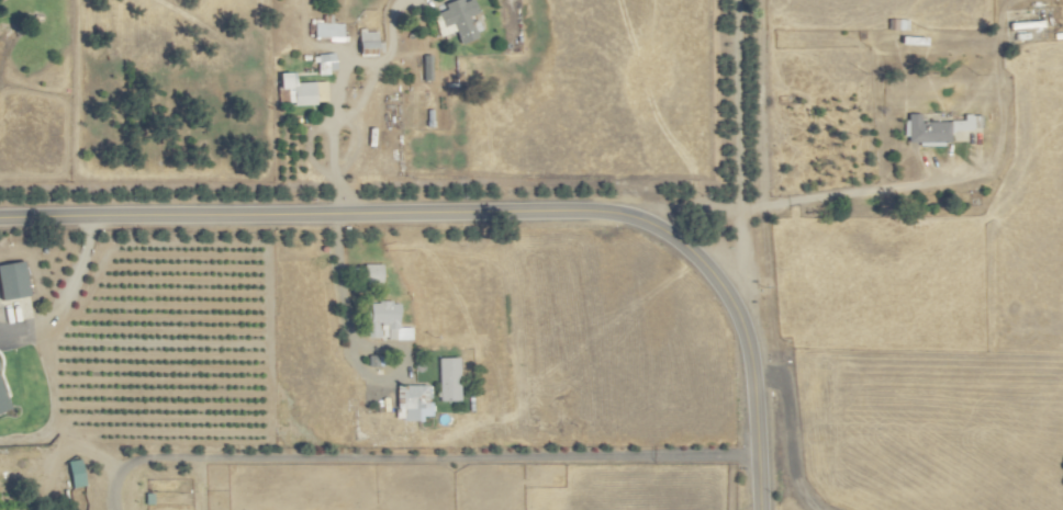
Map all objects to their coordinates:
building: (456, 21)
building: (328, 31)
building: (368, 43)
building: (325, 64)
building: (302, 91)
building: (940, 129)
road: (735, 151)
road: (676, 211)
road: (490, 213)
crop: (877, 236)
building: (371, 274)
building: (12, 282)
road: (66, 297)
building: (385, 322)
road: (354, 348)
building: (374, 361)
building: (448, 379)
building: (2, 403)
building: (412, 404)
road: (414, 458)
building: (76, 474)

